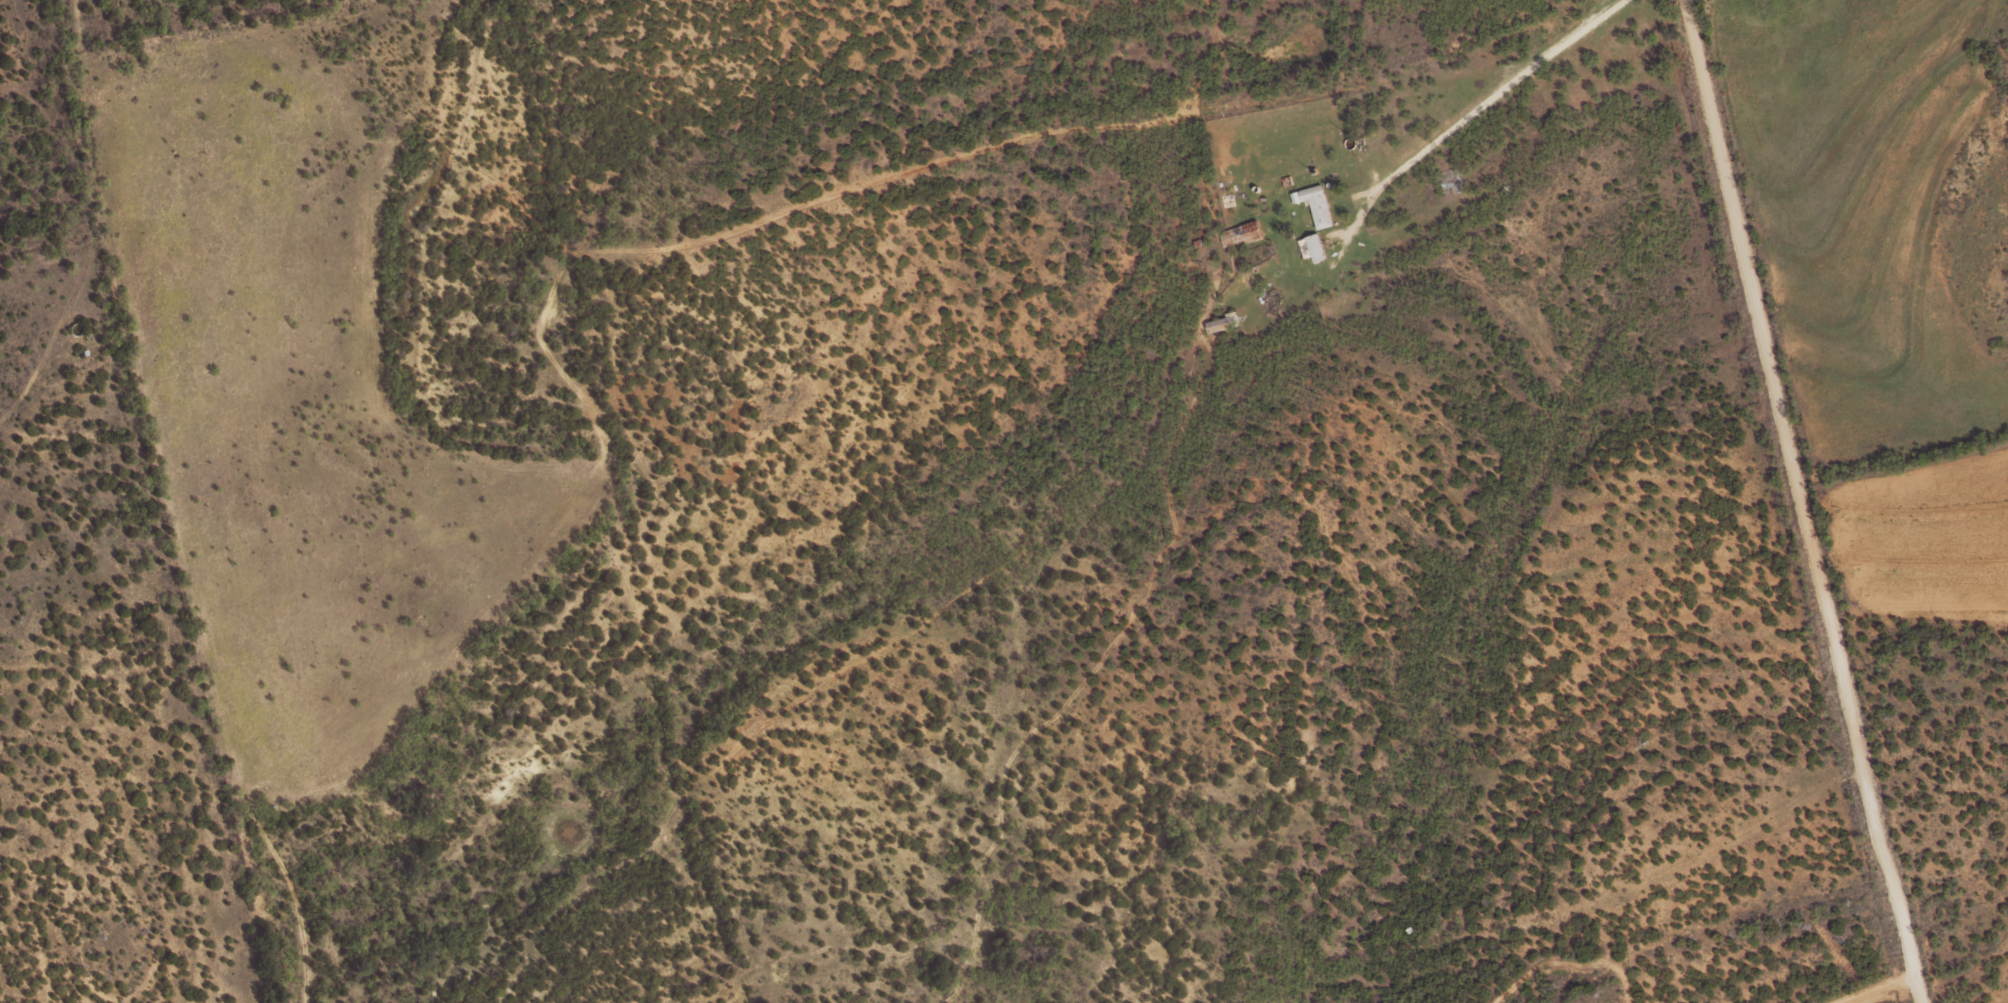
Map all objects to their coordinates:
building: (1314, 204)
building: (1240, 234)
building: (1312, 247)
building: (1221, 323)
road: (1127, 479)
road: (1800, 501)
road: (1880, 990)

